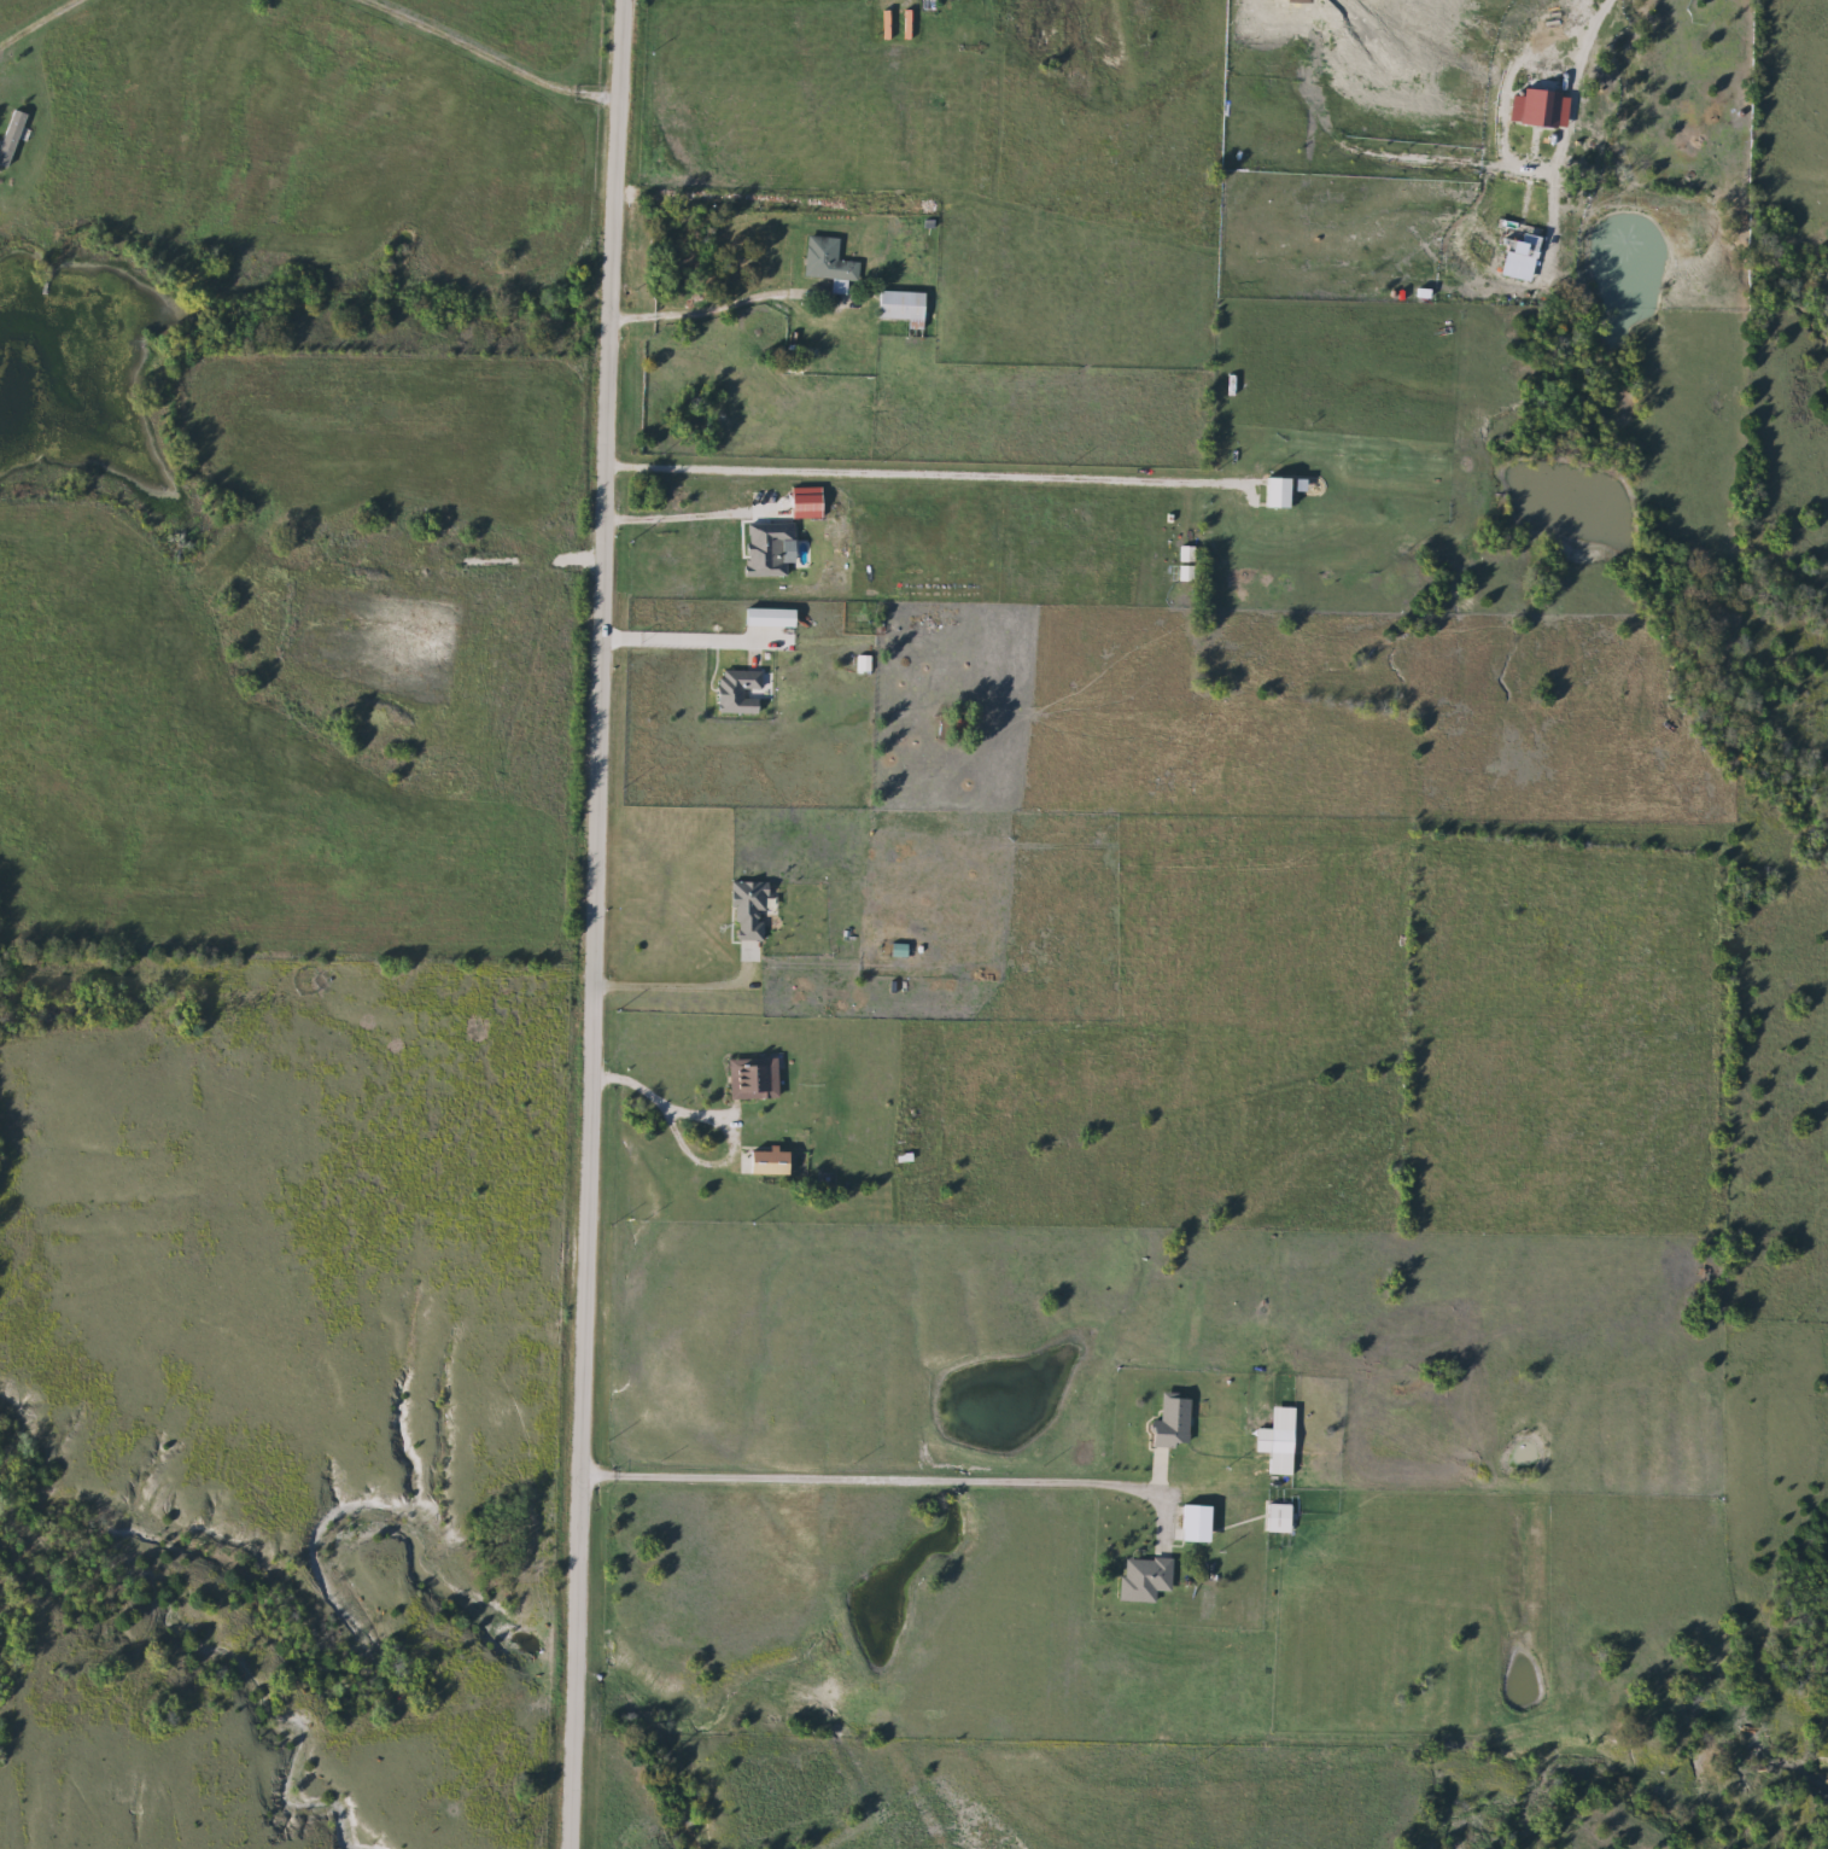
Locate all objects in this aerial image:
road: (37, 24)
road: (1585, 27)
road: (485, 56)
building: (10, 133)
building: (827, 262)
building: (898, 307)
road: (713, 308)
road: (311, 337)
road: (924, 479)
building: (1273, 494)
road: (684, 517)
road: (688, 640)
building: (734, 693)
building: (956, 725)
road: (591, 923)
road: (679, 984)
building: (749, 1079)
road: (656, 1097)
building: (898, 1161)
building: (763, 1163)
building: (1168, 1422)
building: (1278, 1442)
road: (860, 1478)
building: (1274, 1517)
building: (1190, 1523)
building: (1141, 1579)

